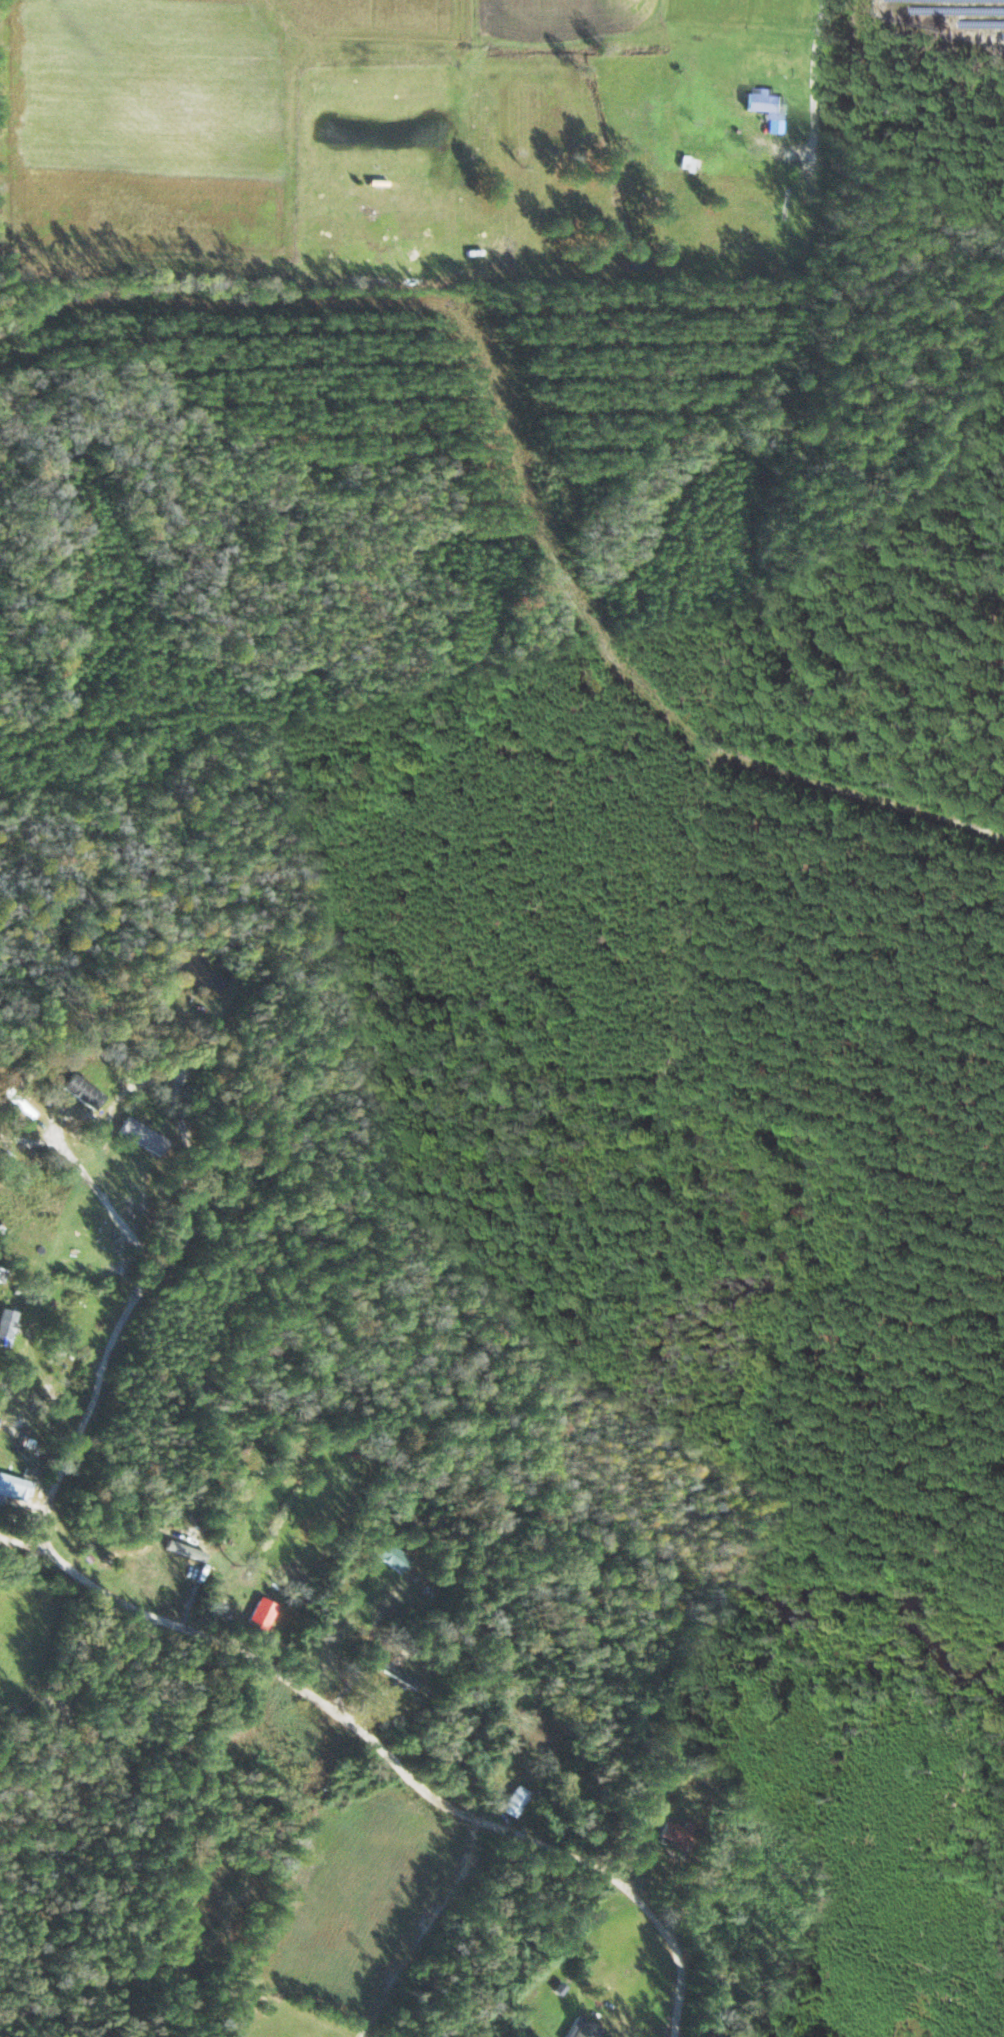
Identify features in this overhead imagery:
building: (765, 101)
building: (695, 166)
building: (83, 1092)
building: (143, 1136)
building: (7, 1326)
building: (8, 1430)
road: (77, 1468)
building: (14, 1488)
road: (52, 1492)
building: (179, 1548)
building: (395, 1558)
building: (263, 1616)
road: (385, 1744)
building: (517, 1802)
building: (586, 2029)

